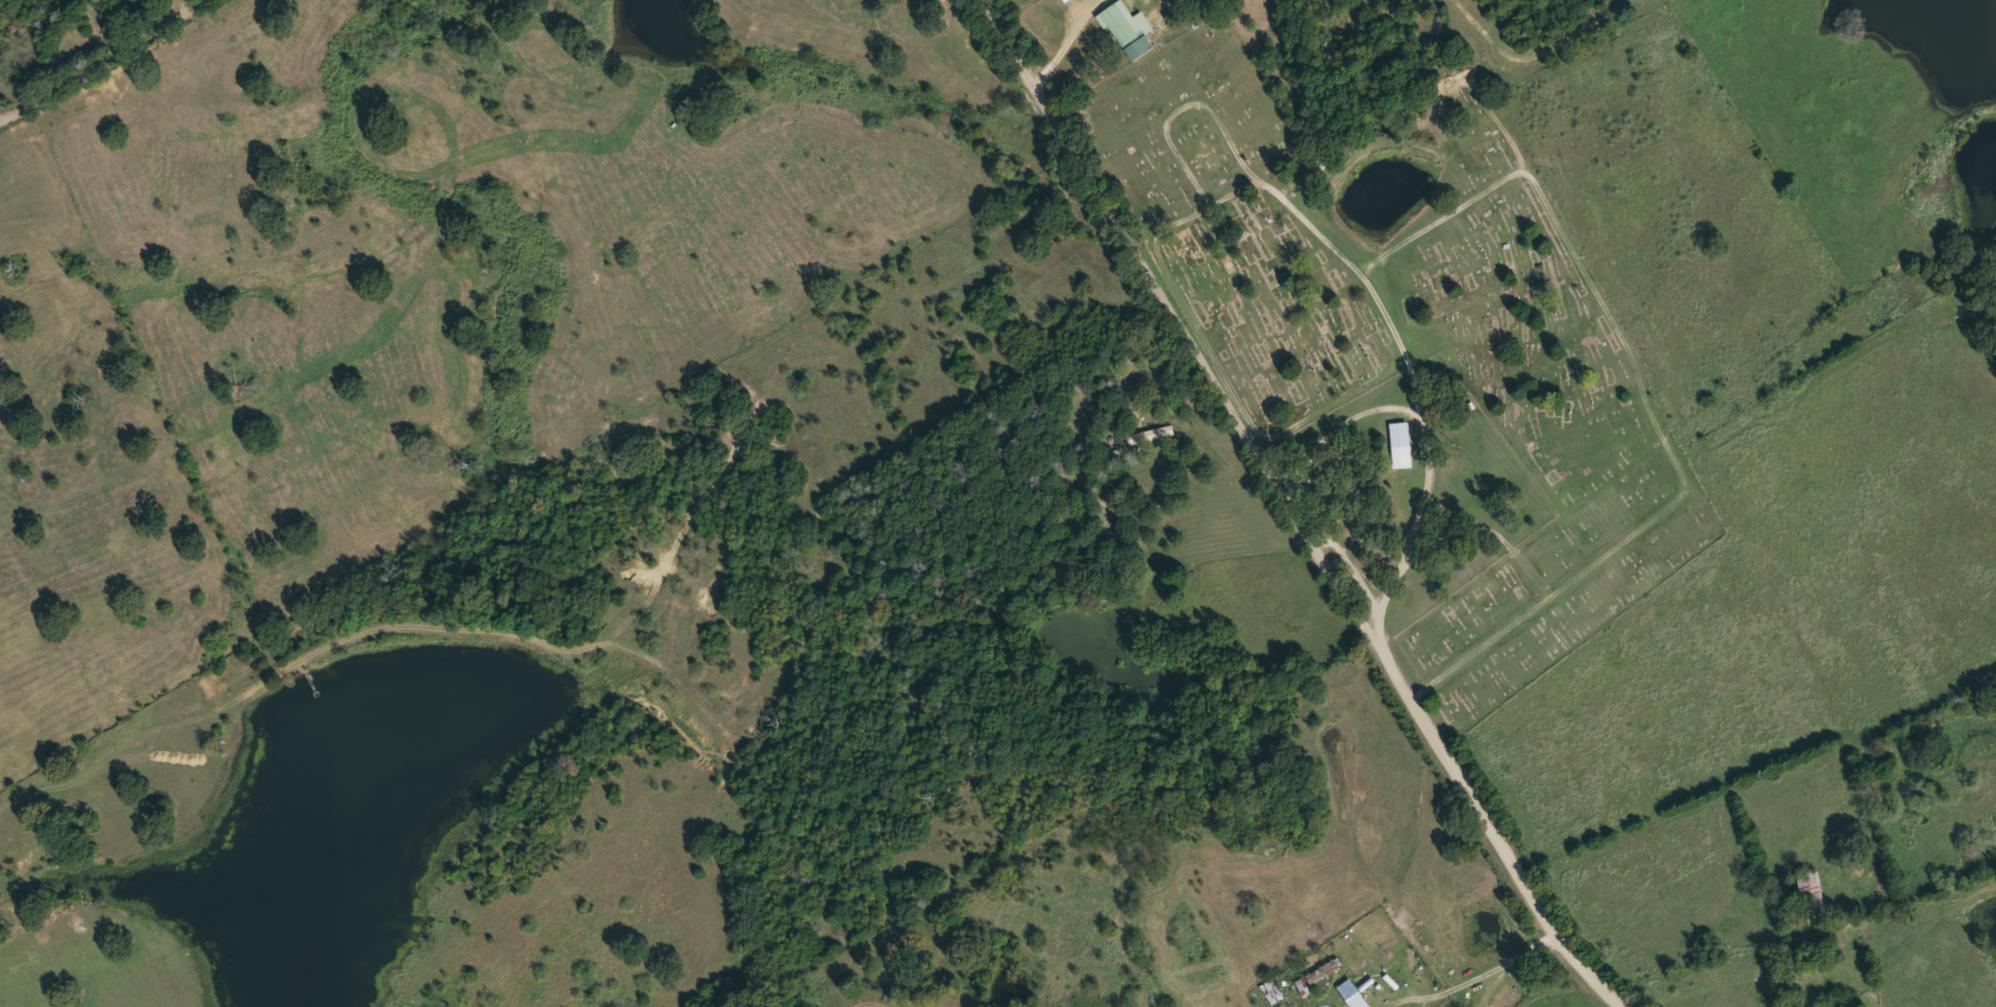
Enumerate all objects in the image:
building: (1123, 23)
road: (1065, 39)
road: (96, 58)
road: (1357, 265)
park: (1406, 351)
building: (1400, 444)
road: (1309, 491)
road: (1294, 510)
road: (74, 761)
building: (1810, 893)
road: (1852, 940)
road: (1507, 962)
building: (1324, 970)
building: (1353, 996)

